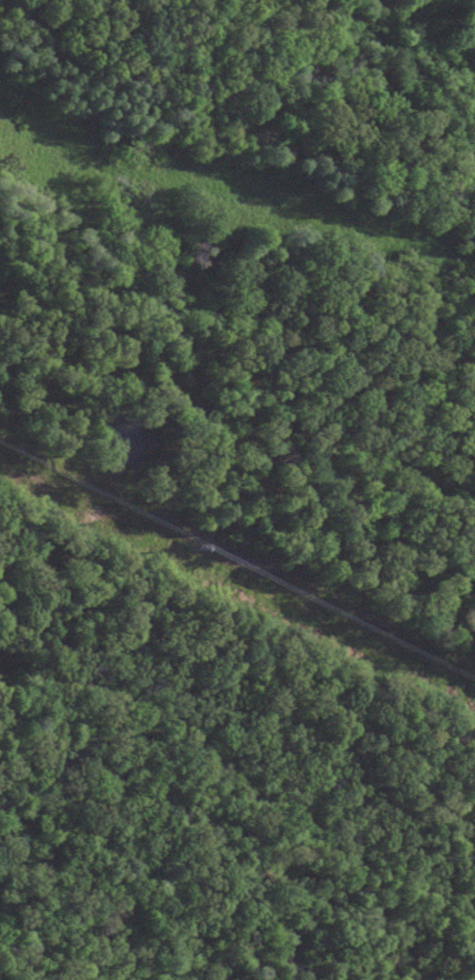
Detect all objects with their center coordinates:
power tower: (187, 545)

